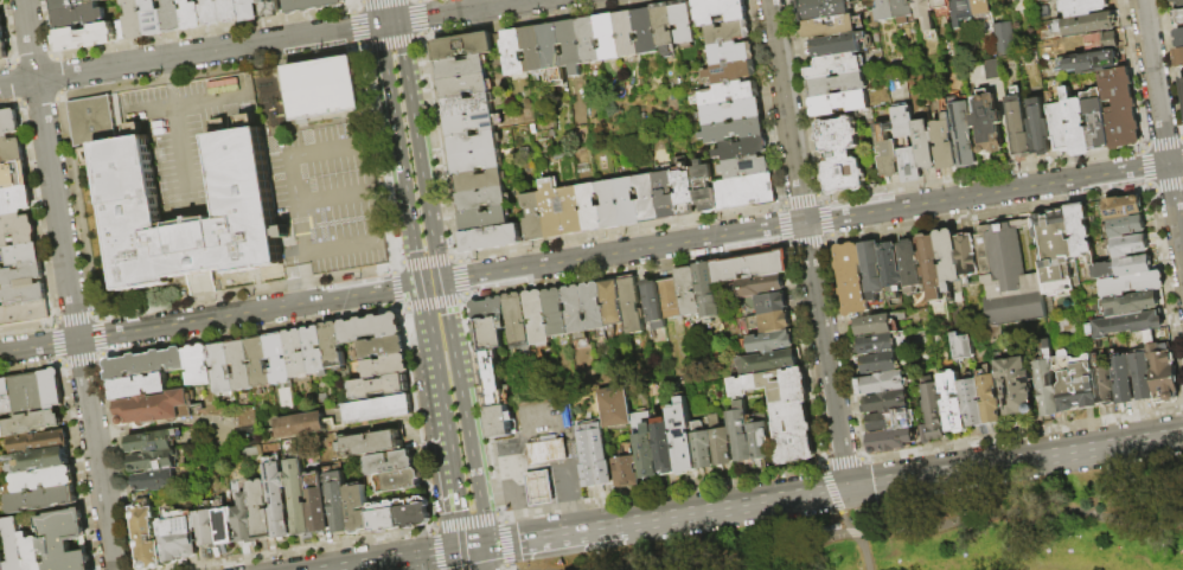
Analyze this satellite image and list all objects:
road: (378, 1)
road: (420, 1)
building: (0, 2)
road: (358, 2)
building: (981, 2)
building: (1178, 2)
building: (72, 4)
building: (941, 4)
building: (312, 5)
road: (357, 6)
building: (1080, 6)
building: (270, 8)
building: (823, 8)
building: (903, 8)
building: (230, 9)
building: (249, 9)
building: (887, 9)
road: (394, 11)
road: (462, 11)
building: (721, 11)
building: (211, 12)
road: (375, 12)
building: (963, 12)
building: (926, 13)
building: (192, 14)
building: (173, 15)
building: (79, 17)
building: (153, 18)
road: (421, 18)
building: (1181, 18)
building: (135, 19)
traffic signals: (396, 21)
road: (386, 23)
building: (1083, 23)
building: (673, 24)
traffic signals: (377, 25)
building: (831, 27)
road: (357, 30)
road: (9, 31)
building: (647, 31)
building: (729, 33)
road: (318, 34)
building: (627, 34)
building: (87, 37)
building: (608, 37)
building: (1003, 38)
building: (1179, 38)
building: (4, 40)
road: (421, 40)
building: (589, 40)
building: (1096, 40)
building: (571, 45)
building: (838, 45)
building: (463, 46)
road: (392, 47)
road: (360, 50)
building: (532, 50)
building: (552, 52)
building: (730, 52)
building: (513, 53)
road: (56, 56)
road: (34, 58)
building: (1179, 58)
building: (1087, 60)
road: (13, 63)
building: (848, 63)
road: (129, 64)
building: (990, 69)
road: (1171, 69)
building: (731, 71)
road: (212, 73)
road: (60, 76)
building: (462, 77)
road: (386, 79)
road: (17, 83)
building: (838, 84)
building: (1181, 85)
building: (324, 88)
road: (170, 89)
building: (728, 94)
road: (63, 97)
road: (41, 101)
road: (190, 101)
road: (20, 103)
building: (843, 103)
building: (468, 104)
building: (1120, 107)
building: (244, 120)
building: (1096, 120)
building: (94, 121)
building: (733, 121)
building: (473, 122)
building: (9, 123)
building: (989, 124)
building: (1078, 124)
building: (1019, 127)
building: (1059, 127)
road: (1162, 127)
building: (1040, 128)
building: (964, 135)
road: (1179, 137)
road: (1163, 140)
building: (474, 142)
building: (908, 143)
building: (946, 143)
building: (926, 146)
road: (1144, 147)
building: (742, 148)
building: (11, 149)
road: (439, 149)
road: (416, 152)
building: (842, 154)
building: (888, 154)
road: (381, 155)
building: (477, 161)
road: (184, 164)
road: (292, 164)
road: (399, 165)
building: (746, 167)
road: (1144, 167)
building: (14, 175)
road: (984, 175)
building: (242, 180)
building: (480, 180)
building: (704, 187)
road: (371, 188)
road: (1169, 188)
road: (1149, 190)
building: (746, 191)
building: (686, 193)
building: (666, 194)
road: (334, 197)
building: (648, 198)
road: (824, 198)
building: (484, 199)
road: (801, 199)
building: (15, 200)
building: (628, 201)
building: (610, 205)
road: (781, 205)
road: (78, 206)
building: (1120, 206)
building: (589, 209)
road: (40, 210)
building: (559, 210)
road: (990, 213)
building: (533, 217)
building: (485, 219)
road: (830, 219)
road: (810, 222)
building: (1123, 225)
road: (784, 228)
building: (18, 230)
building: (1081, 231)
road: (620, 233)
road: (411, 239)
building: (493, 239)
road: (830, 242)
road: (341, 243)
road: (807, 244)
building: (1125, 244)
road: (808, 245)
road: (791, 248)
building: (1057, 252)
building: (21, 255)
road: (458, 257)
building: (949, 258)
building: (968, 258)
road: (428, 261)
road: (396, 265)
building: (752, 265)
building: (910, 265)
building: (931, 265)
building: (1121, 265)
building: (872, 270)
road: (627, 271)
building: (891, 271)
road: (308, 275)
building: (1008, 275)
road: (200, 277)
road: (463, 278)
building: (852, 280)
traffic signals: (439, 282)
road: (429, 283)
building: (1128, 283)
building: (24, 284)
road: (69, 284)
traffic signals: (421, 284)
building: (761, 286)
road: (409, 287)
road: (397, 289)
building: (708, 292)
building: (689, 293)
road: (1166, 293)
road: (247, 294)
road: (204, 297)
building: (671, 299)
road: (466, 301)
building: (613, 303)
building: (773, 303)
building: (1125, 303)
building: (654, 305)
road: (434, 306)
building: (632, 306)
building: (595, 307)
road: (402, 309)
building: (490, 309)
building: (576, 309)
building: (24, 313)
building: (557, 313)
road: (97, 315)
road: (427, 315)
road: (75, 316)
building: (539, 319)
road: (198, 320)
road: (56, 322)
building: (772, 322)
building: (518, 324)
building: (1121, 324)
building: (876, 326)
road: (27, 328)
building: (371, 328)
road: (252, 333)
building: (491, 333)
road: (102, 338)
building: (772, 342)
road: (58, 345)
building: (334, 345)
building: (880, 345)
building: (960, 345)
building: (384, 346)
road: (846, 352)
building: (307, 353)
road: (805, 356)
road: (452, 357)
road: (103, 358)
building: (280, 359)
building: (260, 361)
building: (773, 361)
road: (83, 363)
building: (147, 364)
building: (882, 364)
road: (62, 365)
building: (199, 365)
building: (242, 365)
building: (388, 366)
building: (222, 369)
building: (1164, 373)
building: (493, 378)
building: (887, 383)
building: (1049, 383)
building: (1076, 383)
building: (1124, 384)
building: (140, 386)
building: (379, 386)
building: (1016, 386)
building: (1105, 386)
road: (441, 390)
building: (37, 392)
building: (6, 398)
building: (981, 401)
building: (890, 403)
building: (954, 403)
building: (156, 409)
building: (378, 409)
road: (482, 409)
building: (616, 409)
building: (935, 409)
building: (785, 410)
building: (245, 417)
road: (530, 417)
road: (420, 418)
building: (893, 421)
building: (500, 422)
building: (31, 424)
building: (298, 424)
building: (742, 433)
road: (1021, 434)
building: (683, 438)
building: (761, 441)
building: (893, 441)
building: (40, 442)
building: (154, 442)
building: (721, 442)
building: (372, 443)
building: (645, 446)
building: (665, 447)
road: (501, 449)
building: (702, 449)
building: (548, 453)
road: (571, 454)
building: (595, 457)
building: (43, 460)
building: (156, 461)
road: (840, 461)
road: (472, 462)
building: (391, 463)
road: (119, 465)
road: (79, 468)
building: (627, 468)
road: (507, 474)
building: (45, 479)
building: (156, 480)
road: (904, 480)
building: (399, 481)
road: (523, 483)
building: (541, 488)
gas station: (541, 488)
road: (664, 489)
road: (830, 489)
traffic signals: (848, 489)
road: (458, 493)
building: (299, 494)
road: (542, 497)
building: (279, 498)
road: (574, 498)
building: (44, 499)
building: (339, 502)
building: (319, 504)
building: (358, 510)
building: (262, 511)
building: (415, 513)
building: (384, 517)
road: (504, 517)
building: (245, 519)
road: (523, 519)
road: (467, 520)
road: (481, 520)
building: (224, 523)
building: (207, 525)
park: (948, 531)
road: (433, 532)
road: (576, 532)
road: (888, 533)
building: (147, 536)
building: (179, 536)
road: (856, 539)
building: (65, 540)
building: (15, 543)
road: (501, 544)
road: (507, 544)
road: (315, 549)
traffic signals: (475, 549)
building: (34, 552)
road: (435, 552)
road: (455, 552)
building: (2, 553)
road: (477, 559)
road: (389, 563)
road: (509, 568)

